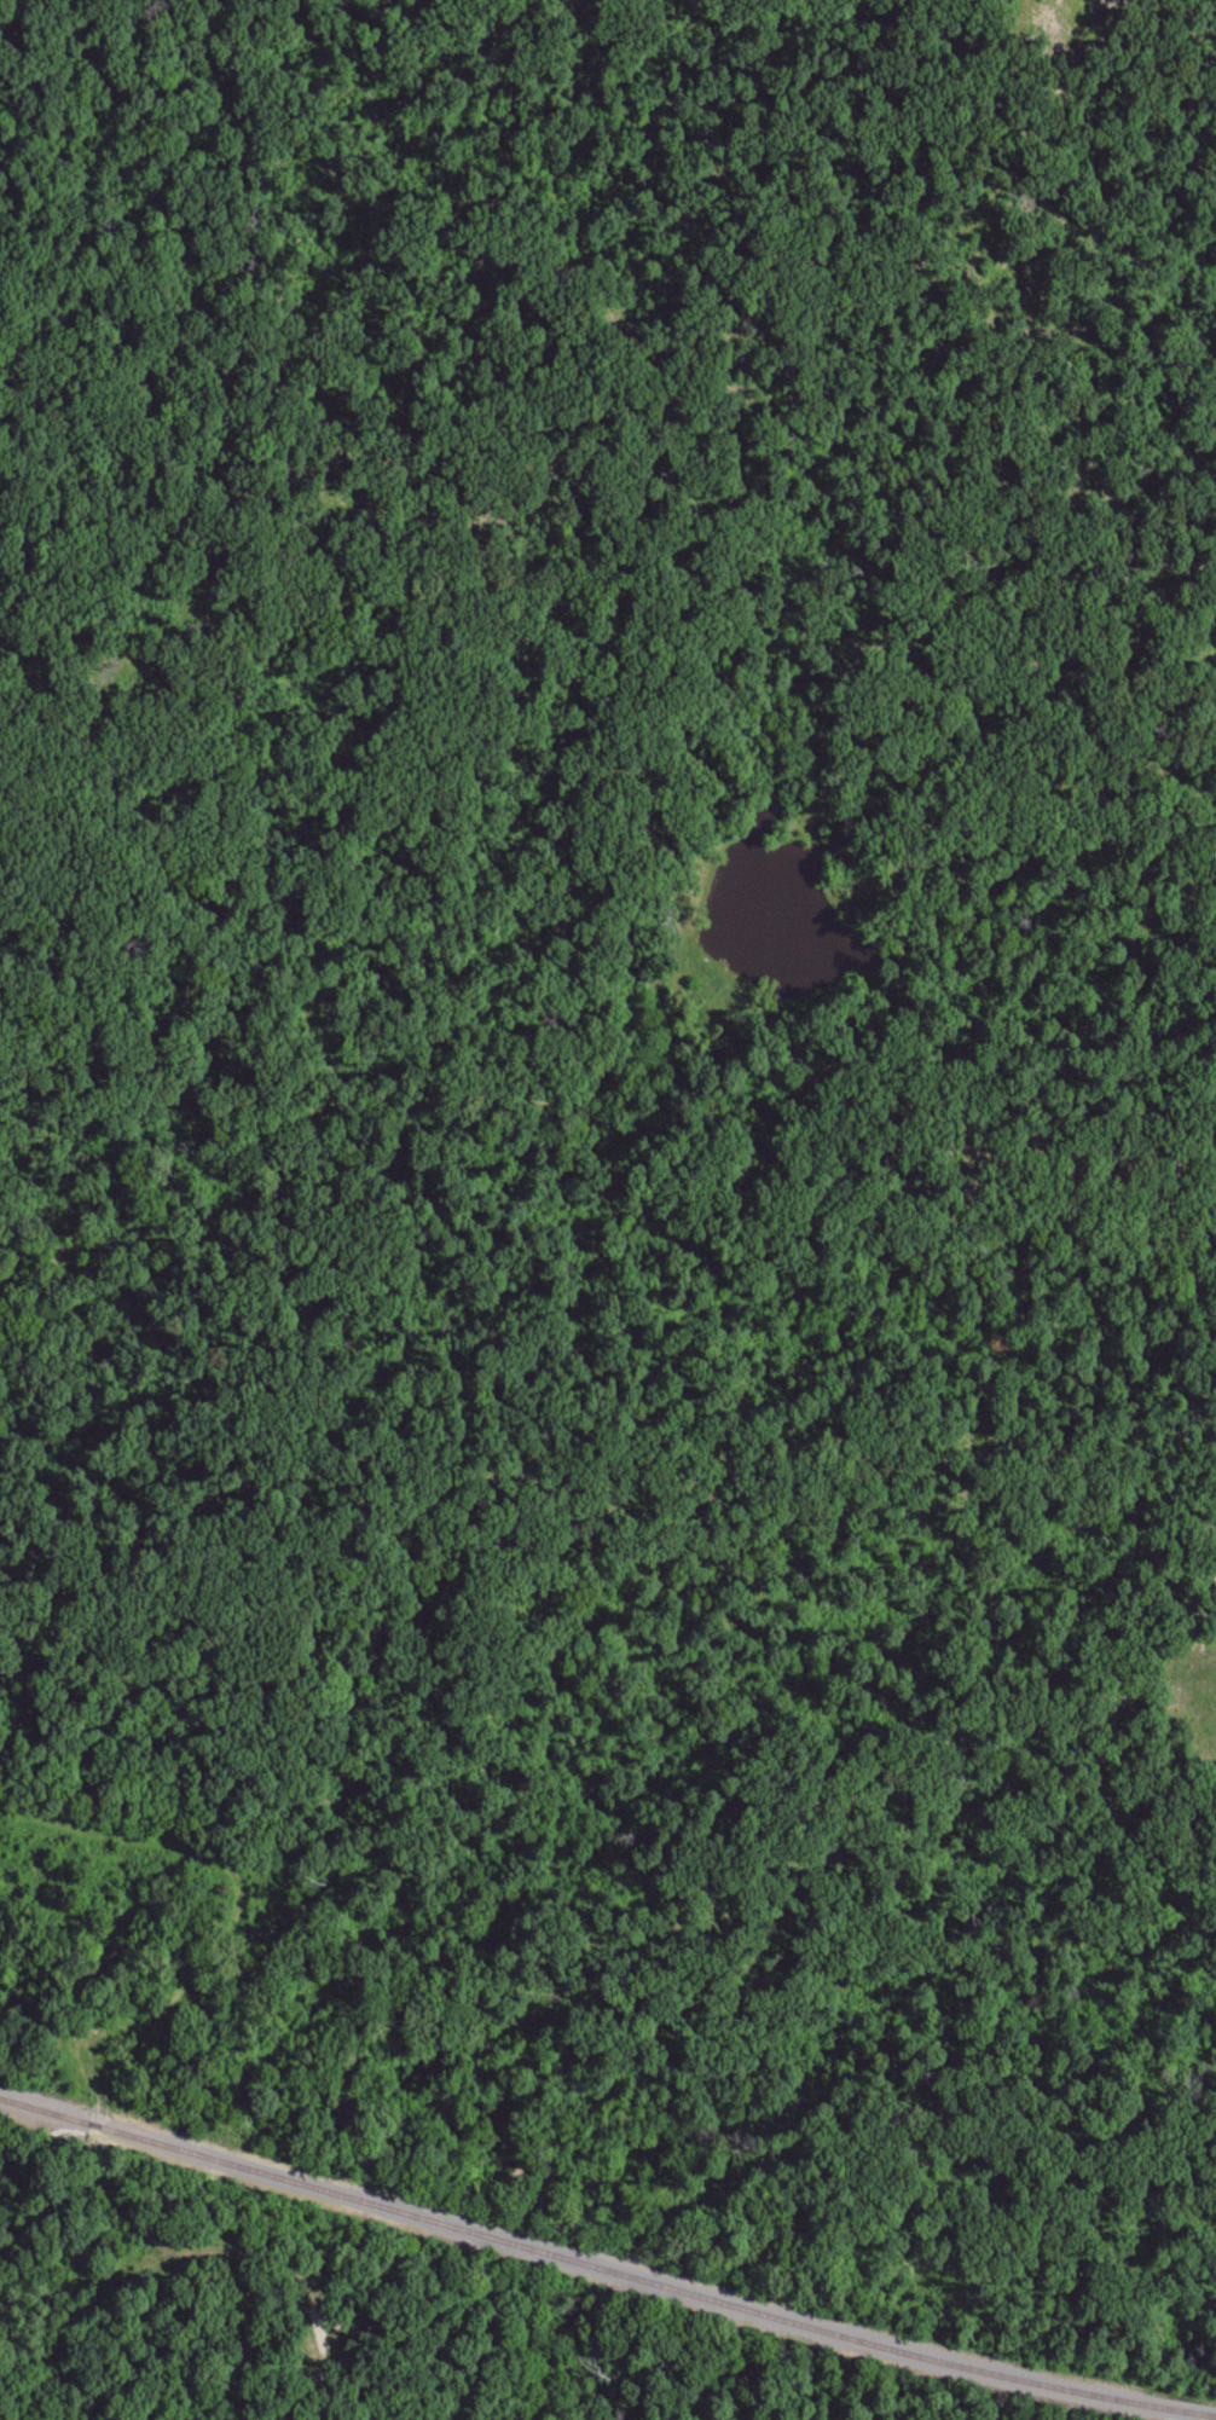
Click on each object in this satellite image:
railway: (604, 2270)

